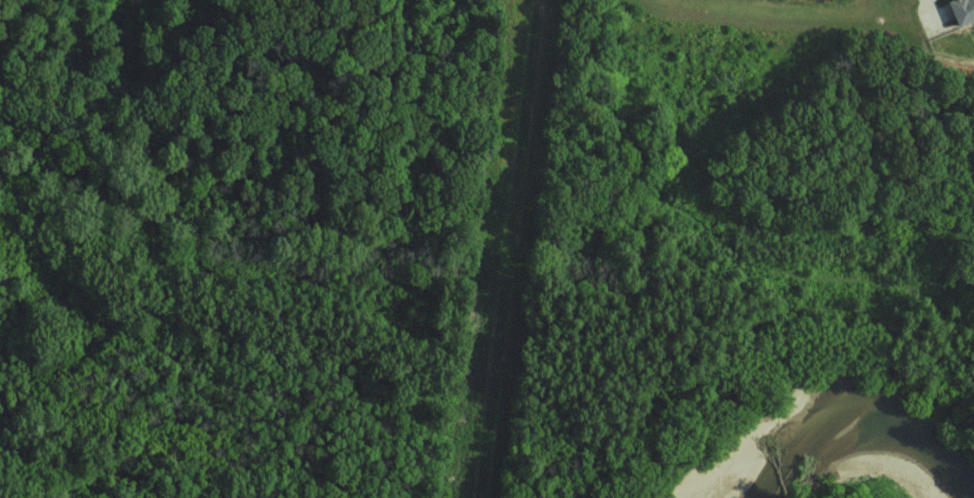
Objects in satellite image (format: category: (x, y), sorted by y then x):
building: (965, 11)
river: (856, 416)

